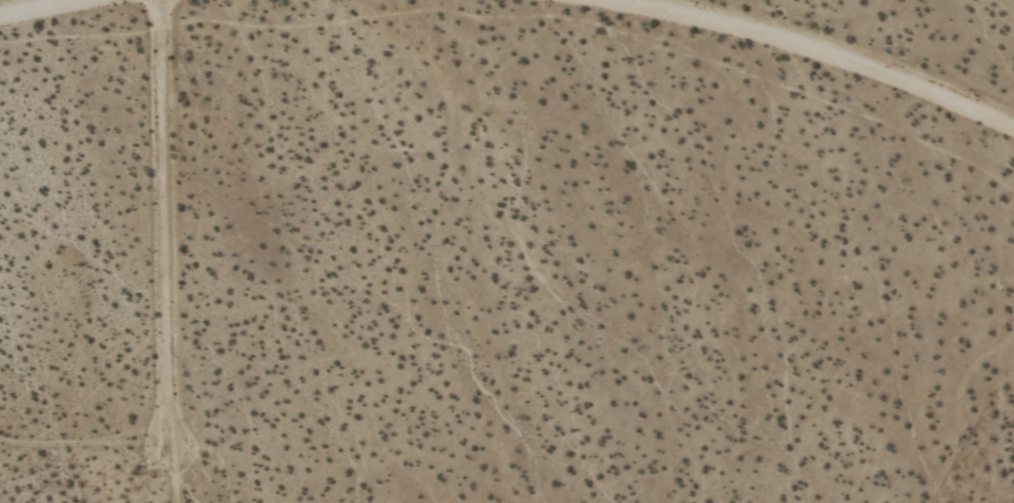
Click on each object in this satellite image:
road: (60, 8)
road: (790, 46)
road: (164, 238)
crop: (507, 251)

